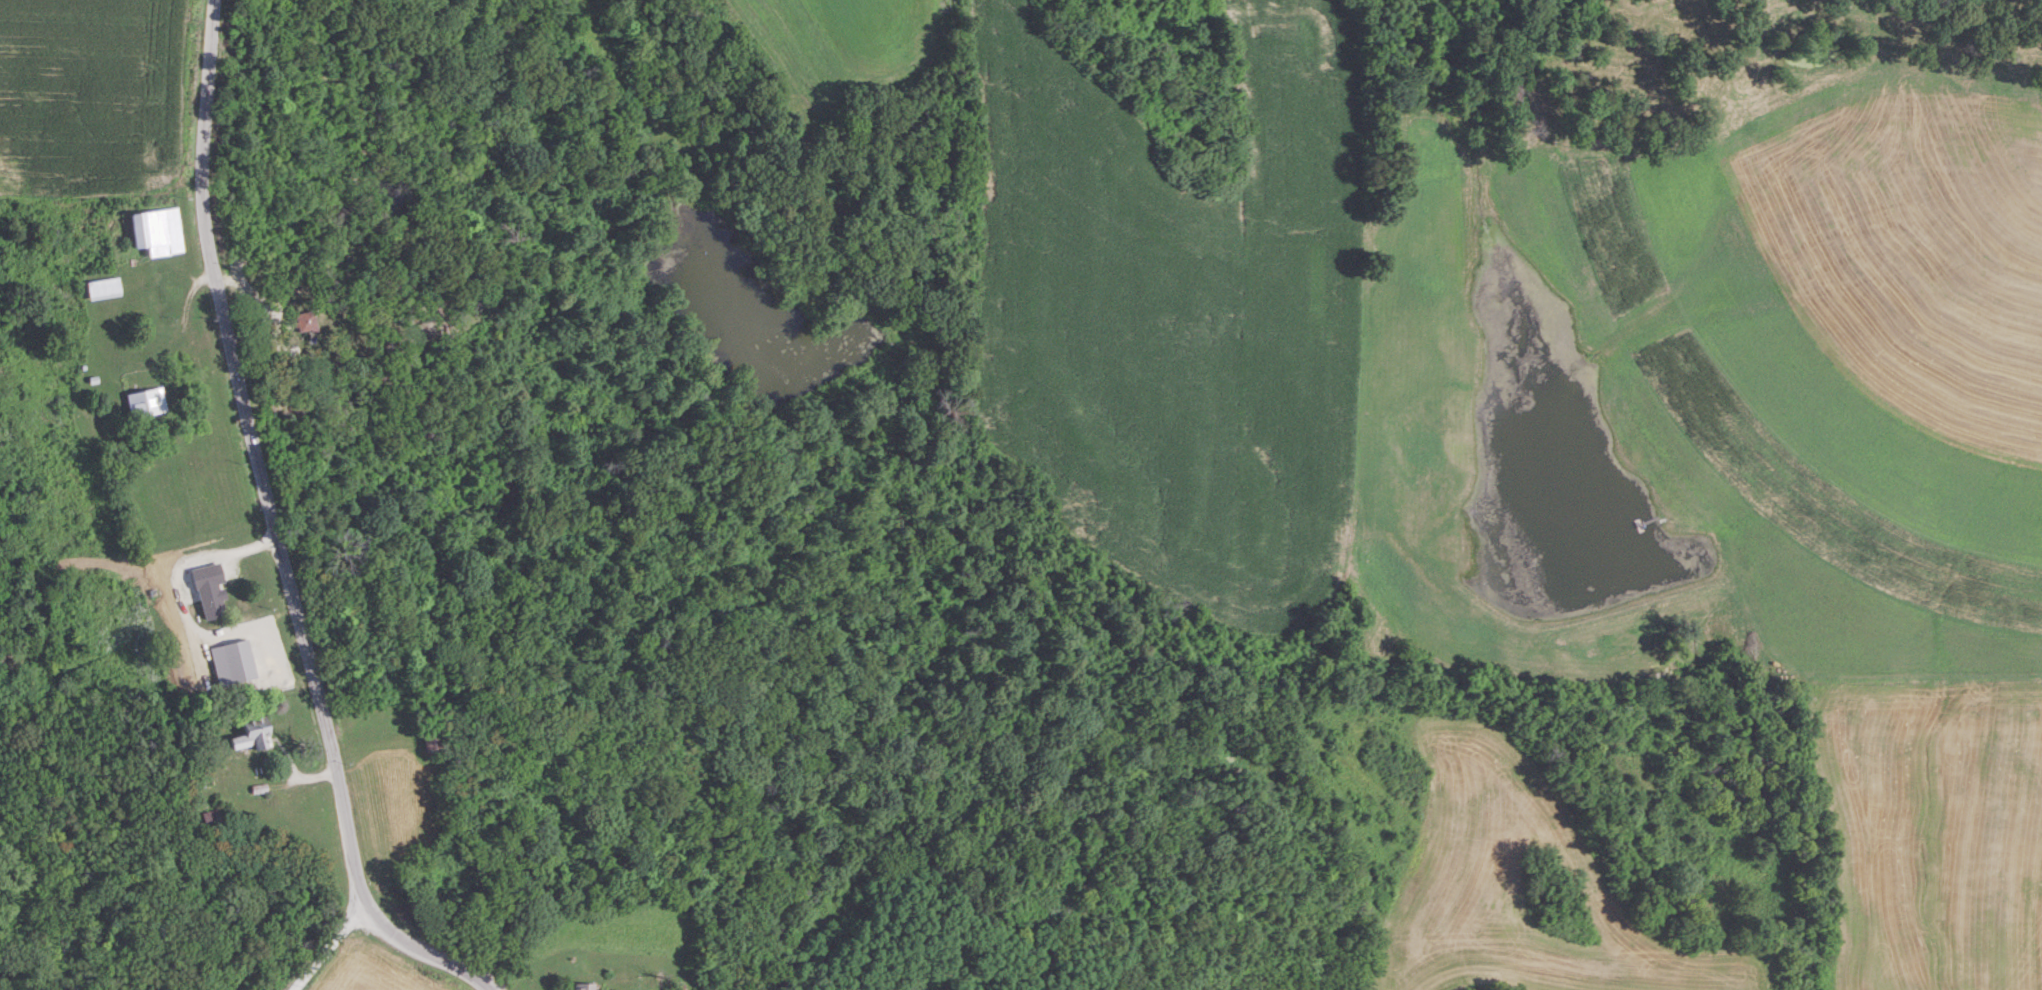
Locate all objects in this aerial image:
crop: (91, 102)
building: (156, 232)
building: (101, 289)
building: (145, 403)
road: (274, 529)
building: (209, 602)
building: (250, 734)
building: (433, 741)
building: (210, 817)
road: (327, 943)
building: (582, 986)

